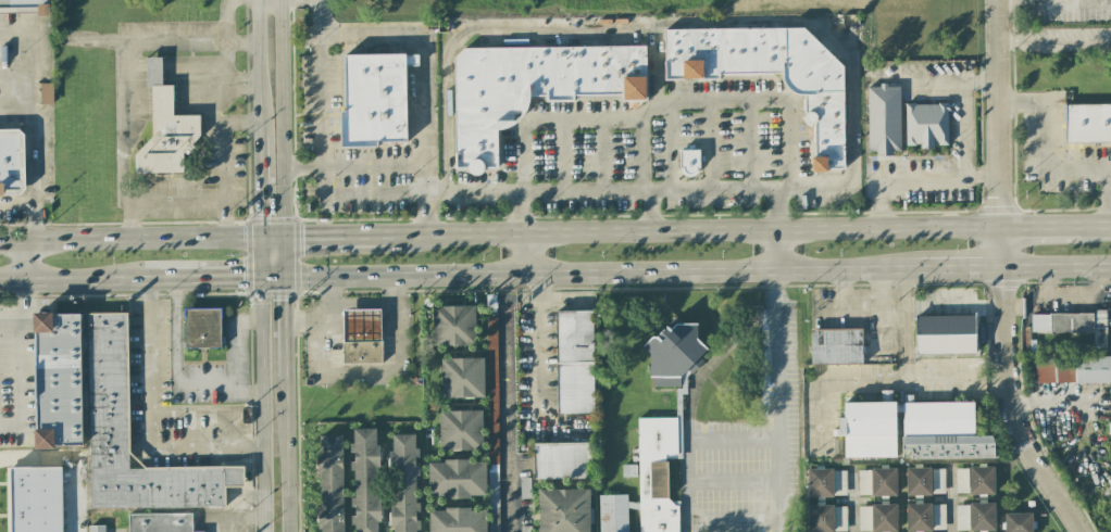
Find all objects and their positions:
road: (1029, 0)
road: (1049, 0)
building: (25, 7)
road: (683, 22)
road: (190, 42)
road: (1056, 42)
road: (258, 67)
road: (654, 77)
road: (982, 79)
road: (319, 84)
building: (532, 88)
building: (46, 93)
building: (373, 100)
road: (762, 100)
road: (424, 102)
building: (824, 107)
road: (1001, 110)
road: (282, 116)
road: (32, 119)
building: (883, 119)
road: (584, 121)
building: (1087, 123)
building: (925, 125)
building: (165, 128)
road: (238, 129)
road: (964, 129)
road: (747, 143)
road: (709, 144)
road: (667, 147)
building: (11, 162)
building: (689, 162)
road: (1050, 166)
road: (984, 175)
road: (902, 177)
road: (424, 181)
road: (260, 188)
road: (710, 189)
road: (565, 191)
road: (388, 195)
road: (16, 203)
road: (213, 203)
road: (424, 214)
road: (1044, 221)
road: (1098, 221)
road: (692, 227)
road: (335, 235)
traffic signals: (285, 236)
road: (272, 237)
traffic signals: (260, 238)
road: (129, 239)
road: (774, 248)
road: (524, 252)
road: (285, 256)
road: (259, 258)
road: (28, 261)
road: (1057, 267)
road: (960, 268)
road: (601, 271)
traffic signals: (286, 277)
road: (272, 278)
road: (80, 279)
road: (210, 279)
traffic signals: (259, 280)
road: (508, 282)
road: (325, 299)
road: (877, 305)
road: (339, 320)
road: (287, 325)
building: (1072, 325)
building: (453, 326)
building: (362, 327)
gas station: (362, 327)
building: (202, 328)
building: (945, 334)
road: (24, 337)
road: (536, 346)
building: (836, 346)
building: (363, 353)
building: (674, 356)
road: (237, 359)
road: (176, 362)
building: (574, 362)
building: (1073, 369)
road: (383, 373)
building: (462, 378)
building: (58, 380)
road: (876, 380)
road: (1004, 385)
building: (108, 390)
road: (777, 401)
road: (1058, 402)
road: (262, 405)
road: (155, 409)
road: (509, 411)
building: (492, 425)
building: (869, 429)
building: (460, 430)
building: (943, 431)
road: (289, 453)
building: (563, 460)
building: (657, 472)
building: (457, 479)
building: (365, 480)
building: (961, 480)
building: (981, 480)
building: (917, 481)
building: (938, 481)
building: (403, 482)
building: (826, 482)
building: (863, 482)
building: (883, 482)
building: (330, 483)
building: (524, 487)
road: (742, 495)
road: (949, 498)
building: (36, 499)
road: (852, 502)
building: (563, 510)
building: (614, 512)
building: (917, 517)
building: (938, 517)
building: (974, 517)
building: (820, 518)
building: (877, 518)
building: (457, 520)
building: (160, 522)
building: (1018, 522)
building: (97, 528)
building: (525, 529)

